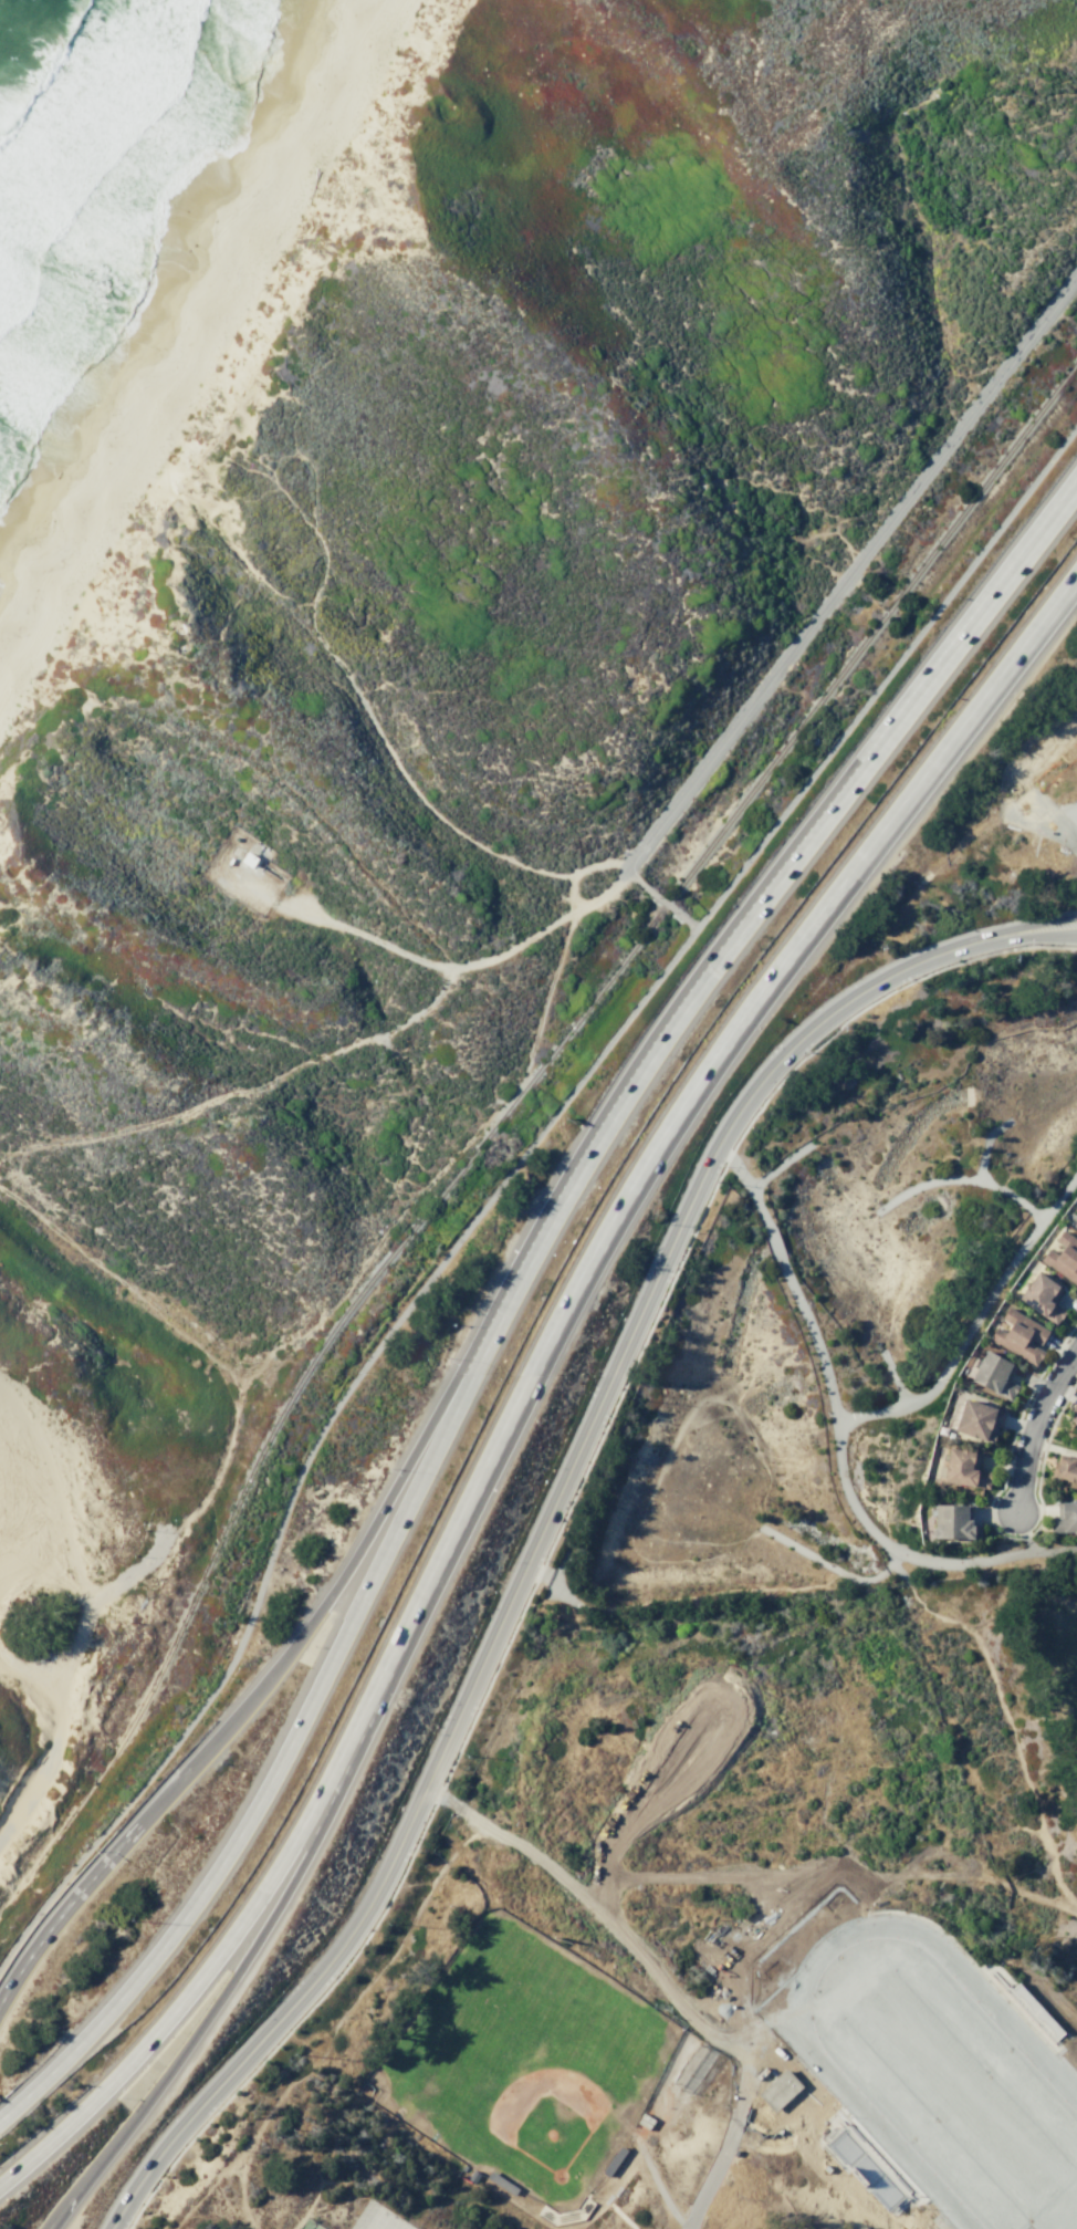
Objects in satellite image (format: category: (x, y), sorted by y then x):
road: (849, 566)
railway: (872, 627)
road: (1070, 821)
road: (1052, 823)
road: (801, 856)
road: (659, 897)
road: (660, 1152)
road: (505, 1189)
building: (1075, 1225)
building: (1064, 1257)
building: (1042, 1298)
park: (835, 1312)
building: (1020, 1336)
building: (994, 1374)
railway: (293, 1389)
road: (865, 1414)
building: (1074, 1414)
building: (979, 1419)
road: (1033, 1424)
building: (964, 1468)
building: (1064, 1468)
road: (547, 1512)
building: (1064, 1517)
building: (953, 1522)
road: (910, 1556)
road: (972, 1631)
road: (299, 1639)
road: (311, 1704)
road: (467, 1839)
road: (846, 1875)
road: (610, 1906)
street lamp: (881, 1907)
road: (864, 1912)
street lamp: (917, 1913)
street lamp: (847, 1914)
street lamp: (717, 1927)
street lamp: (816, 1931)
street lamp: (947, 1931)
street lamp: (749, 1941)
street lamp: (783, 1944)
street lamp: (692, 1950)
street lamp: (974, 1960)
street lamp: (710, 1970)
road: (792, 1976)
street lamp: (1011, 1976)
street lamp: (730, 1991)
street lamp: (785, 1997)
road: (187, 2001)
street lamp: (750, 2012)
road: (209, 2017)
road: (760, 2020)
park: (899, 2020)
road: (732, 2037)
street lamp: (1058, 2040)
parking lot: (759, 2048)
road: (751, 2051)
street lamp: (793, 2056)
park: (521, 2061)
road: (313, 2062)
track: (932, 2069)
building: (778, 2090)
street lamp: (212, 2108)
street lamp: (822, 2119)
street lamp: (785, 2126)
park: (1006, 2143)
road: (724, 2145)
road: (313, 2163)
road: (614, 2181)
road: (660, 2189)
road: (241, 2192)
road: (590, 2211)
street lamp: (908, 2215)
park: (373, 2217)
street lamp: (127, 2222)
building: (937, 2222)
park: (309, 2225)
park: (400, 2225)
road: (564, 2228)

